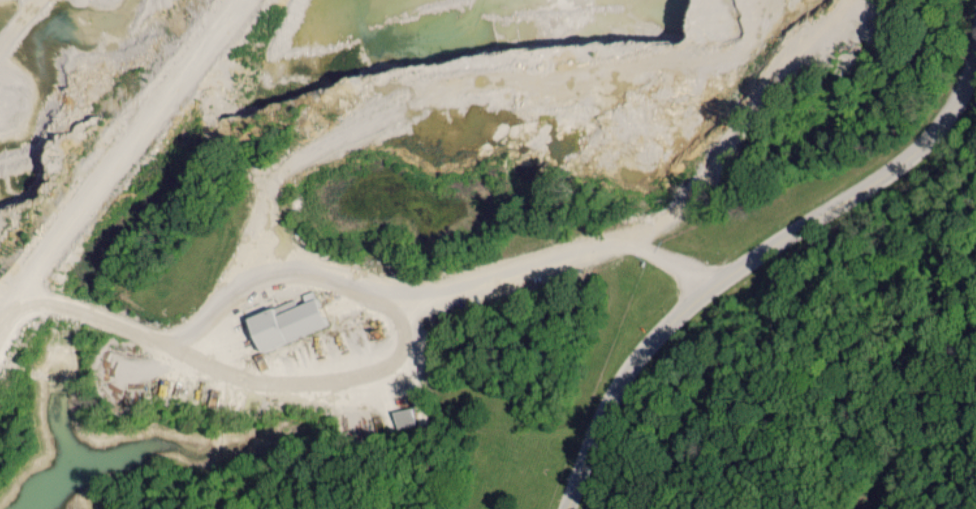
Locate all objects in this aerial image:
road: (957, 101)
road: (716, 291)
building: (294, 320)
road: (962, 332)
building: (410, 417)

